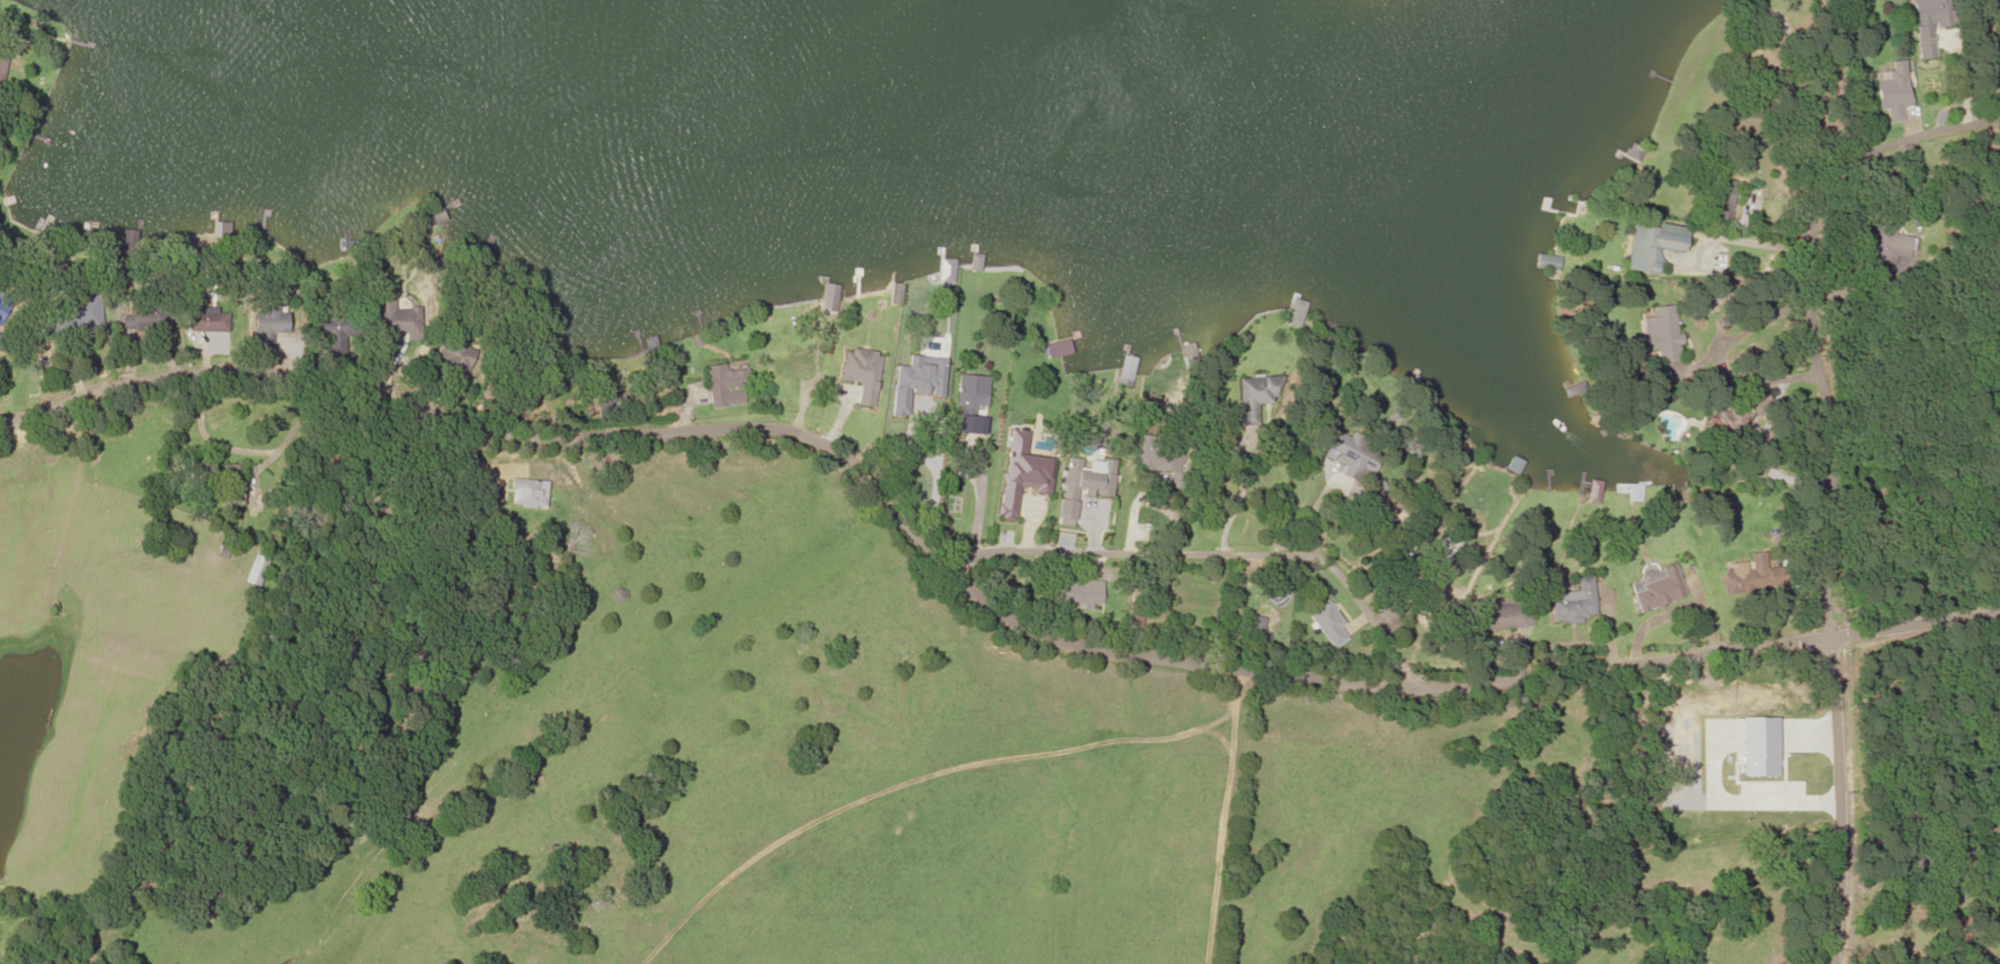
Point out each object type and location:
building: (1930, 23)
building: (4, 63)
building: (1894, 92)
building: (1721, 198)
building: (434, 217)
building: (1889, 245)
building: (1656, 249)
building: (975, 262)
building: (896, 294)
building: (830, 296)
building: (90, 312)
building: (1293, 314)
building: (149, 316)
building: (395, 319)
building: (330, 320)
building: (209, 322)
road: (1819, 322)
building: (269, 327)
building: (1662, 333)
building: (1060, 348)
building: (455, 355)
building: (796, 363)
building: (920, 365)
building: (857, 371)
building: (726, 386)
building: (971, 397)
building: (1253, 398)
building: (1718, 425)
building: (1160, 456)
building: (1355, 457)
building: (198, 472)
building: (230, 474)
building: (1022, 488)
building: (1086, 493)
building: (232, 496)
building: (1447, 548)
road: (1209, 556)
building: (255, 571)
building: (1754, 577)
building: (1659, 590)
road: (972, 593)
building: (1077, 593)
building: (1576, 605)
building: (1499, 618)
building: (1327, 624)
road: (1230, 700)
road: (1846, 801)
building: (1959, 856)

